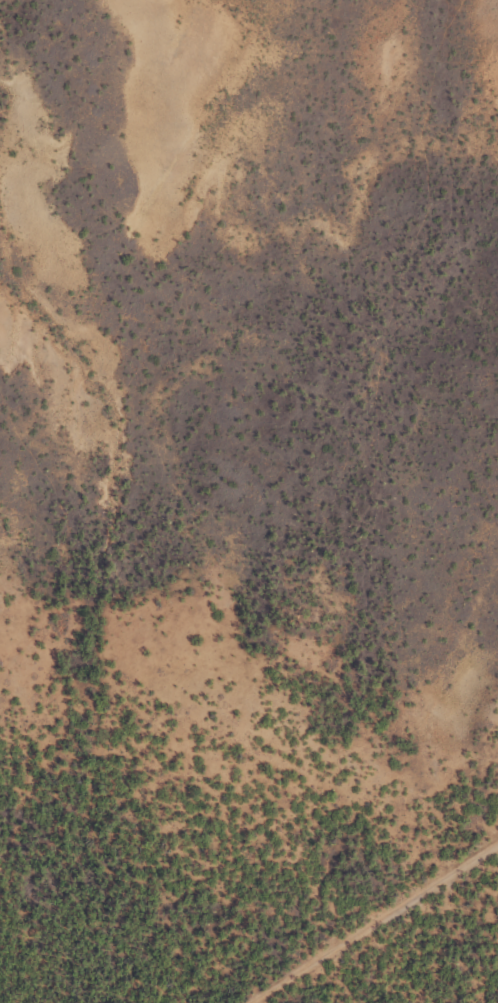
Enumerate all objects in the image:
road: (367, 919)

